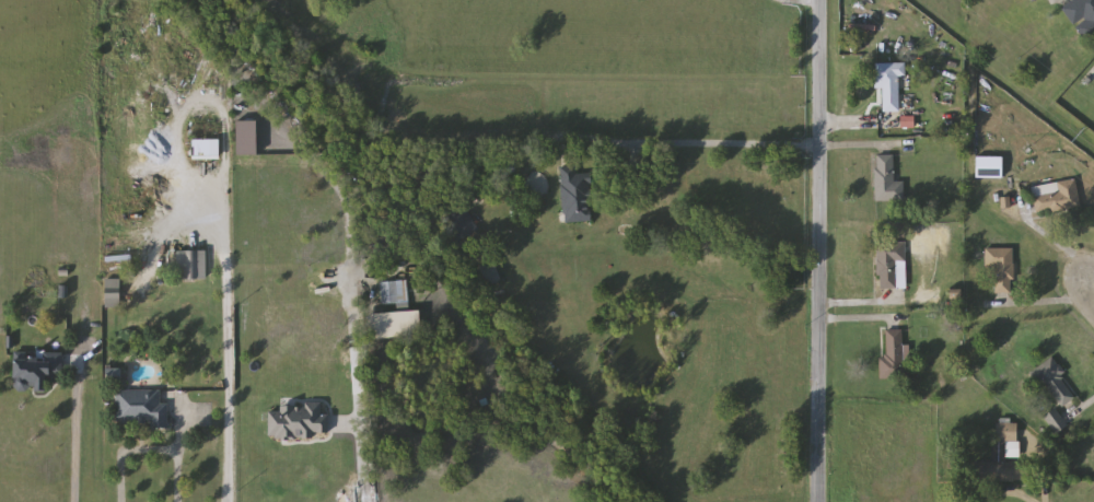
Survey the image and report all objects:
road: (1056, 1)
road: (802, 4)
building: (1082, 15)
building: (889, 85)
road: (851, 130)
power tower: (1076, 131)
road: (691, 140)
road: (851, 149)
building: (207, 150)
building: (887, 179)
building: (577, 195)
building: (1056, 197)
building: (457, 220)
road: (813, 250)
road: (1064, 252)
building: (191, 265)
building: (891, 265)
building: (1002, 268)
building: (491, 273)
building: (393, 292)
building: (114, 293)
road: (1044, 303)
road: (857, 305)
road: (857, 322)
road: (225, 336)
building: (895, 355)
building: (38, 369)
building: (1055, 381)
building: (142, 407)
road: (1084, 409)
building: (1057, 422)
road: (75, 429)
road: (147, 450)
building: (999, 452)
road: (359, 463)
road: (1043, 470)
road: (1019, 498)

